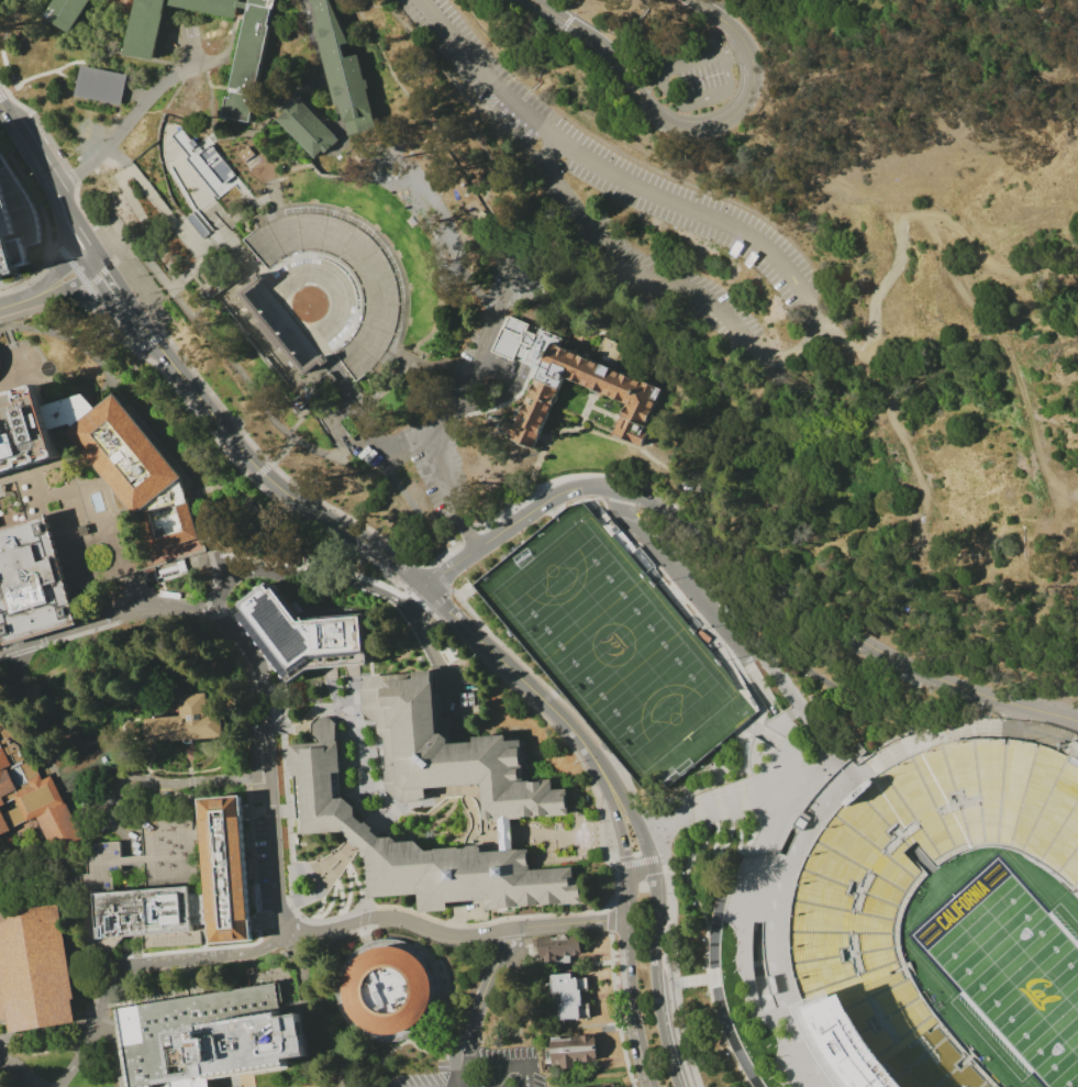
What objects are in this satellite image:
road: (325, 9)
building: (66, 12)
road: (588, 23)
parking lot: (179, 37)
road: (231, 41)
road: (731, 48)
road: (431, 54)
road: (643, 59)
road: (63, 64)
road: (202, 65)
road: (4, 67)
building: (343, 70)
parking lot: (691, 74)
road: (64, 75)
road: (484, 75)
road: (324, 79)
building: (99, 84)
building: (242, 89)
road: (2, 91)
road: (523, 97)
road: (674, 98)
road: (489, 101)
road: (412, 103)
road: (280, 108)
road: (214, 112)
road: (126, 121)
building: (307, 126)
road: (681, 127)
road: (511, 133)
road: (158, 137)
road: (208, 141)
road: (214, 141)
road: (26, 144)
road: (193, 149)
building: (245, 154)
road: (118, 155)
building: (207, 164)
road: (285, 173)
road: (122, 175)
road: (188, 176)
road: (349, 176)
road: (487, 179)
road: (223, 186)
parking lot: (619, 190)
road: (205, 191)
road: (271, 195)
road: (275, 195)
road: (186, 198)
road: (249, 200)
road: (213, 207)
road: (279, 210)
road: (210, 211)
road: (905, 212)
road: (274, 215)
road: (79, 217)
road: (226, 219)
road: (45, 222)
road: (62, 222)
building: (15, 223)
building: (196, 225)
road: (221, 231)
road: (438, 242)
road: (384, 243)
road: (52, 244)
road: (142, 254)
road: (92, 255)
road: (321, 255)
road: (97, 263)
road: (87, 264)
road: (29, 269)
road: (112, 269)
road: (58, 270)
road: (101, 273)
road: (953, 273)
road: (78, 274)
building: (223, 281)
road: (67, 282)
road: (102, 286)
building: (330, 289)
road: (78, 292)
road: (22, 301)
road: (84, 302)
road: (138, 310)
road: (564, 314)
road: (130, 321)
road: (64, 337)
road: (148, 344)
road: (574, 345)
road: (800, 350)
road: (397, 354)
road: (389, 359)
road: (409, 359)
road: (192, 369)
road: (18, 373)
building: (607, 380)
road: (249, 388)
road: (65, 389)
road: (351, 389)
building: (312, 390)
road: (505, 395)
parking lot: (456, 399)
road: (449, 403)
road: (589, 403)
road: (500, 406)
road: (73, 408)
building: (68, 410)
road: (603, 411)
road: (296, 412)
road: (197, 417)
road: (357, 418)
road: (338, 420)
road: (893, 426)
building: (24, 434)
road: (346, 435)
road: (543, 435)
road: (370, 436)
road: (403, 442)
road: (157, 444)
road: (1041, 448)
road: (274, 461)
building: (136, 472)
road: (259, 472)
road: (273, 481)
road: (554, 481)
road: (73, 486)
road: (527, 489)
road: (200, 491)
road: (586, 499)
road: (0, 500)
road: (537, 507)
road: (4, 514)
road: (201, 533)
road: (469, 536)
road: (524, 545)
road: (1066, 548)
road: (142, 557)
road: (402, 567)
road: (451, 568)
road: (1031, 569)
road: (301, 572)
road: (679, 572)
road: (440, 576)
road: (24, 579)
building: (32, 583)
parking lot: (690, 587)
road: (130, 590)
road: (407, 590)
road: (799, 594)
road: (420, 600)
road: (438, 600)
road: (418, 601)
road: (685, 602)
road: (204, 604)
road: (102, 613)
building: (302, 635)
road: (747, 636)
road: (137, 646)
road: (427, 646)
park: (614, 646)
building: (615, 646)
parking garage: (615, 646)
road: (397, 655)
road: (25, 662)
road: (271, 663)
road: (752, 672)
road: (351, 680)
road: (525, 683)
road: (332, 686)
road: (351, 686)
road: (125, 690)
road: (849, 691)
road: (22, 700)
road: (563, 703)
road: (11, 705)
road: (991, 705)
road: (341, 706)
road: (794, 709)
road: (799, 709)
road: (1036, 709)
road: (534, 710)
building: (191, 720)
road: (955, 728)
road: (277, 729)
road: (788, 731)
road: (929, 734)
road: (1040, 734)
road: (144, 743)
road: (226, 745)
road: (44, 751)
building: (449, 753)
road: (796, 756)
road: (852, 757)
road: (188, 761)
road: (610, 764)
road: (267, 766)
road: (347, 766)
building: (88, 767)
road: (863, 772)
road: (700, 773)
road: (381, 776)
road: (792, 779)
road: (162, 784)
building: (32, 798)
road: (465, 799)
road: (753, 799)
building: (719, 801)
road: (732, 802)
road: (710, 807)
road: (279, 809)
road: (734, 809)
road: (260, 811)
road: (711, 814)
road: (84, 817)
road: (288, 817)
road: (378, 818)
building: (800, 821)
road: (768, 823)
road: (664, 830)
road: (535, 833)
building: (504, 834)
road: (359, 836)
road: (86, 839)
road: (449, 840)
building: (421, 847)
road: (713, 852)
road: (337, 856)
road: (341, 858)
road: (343, 861)
road: (638, 863)
road: (322, 865)
road: (31, 868)
building: (226, 869)
road: (300, 869)
road: (325, 870)
road: (641, 870)
road: (330, 876)
road: (312, 878)
road: (332, 878)
road: (776, 878)
building: (151, 883)
road: (754, 883)
building: (748, 885)
road: (347, 894)
road: (304, 896)
road: (365, 903)
building: (853, 906)
road: (280, 914)
road: (526, 916)
road: (611, 918)
road: (705, 919)
road: (325, 920)
road: (362, 920)
road: (257, 921)
road: (265, 921)
stadium: (948, 921)
road: (673, 922)
road: (79, 924)
road: (355, 931)
road: (715, 931)
road: (654, 932)
road: (458, 934)
road: (631, 936)
road: (365, 938)
road: (484, 939)
road: (134, 946)
road: (410, 949)
building: (562, 950)
road: (319, 958)
road: (746, 960)
road: (135, 963)
road: (184, 964)
park: (1012, 968)
building: (34, 969)
road: (715, 972)
road: (713, 976)
road: (192, 980)
road: (716, 980)
road: (486, 986)
building: (388, 989)
building: (573, 995)
road: (616, 1009)
road: (325, 1010)
road: (774, 1020)
road: (682, 1034)
road: (721, 1034)
building: (210, 1038)
road: (733, 1039)
road: (112, 1051)
building: (574, 1051)
road: (805, 1051)
road: (79, 1052)
road: (437, 1052)
road: (387, 1056)
road: (304, 1057)
road: (329, 1057)
road: (4, 1063)
road: (512, 1065)
road: (466, 1067)
parking lot: (477, 1069)
road: (19, 1071)
road: (276, 1073)
road: (244, 1082)
building: (601, 1086)
building: (605, 1086)

